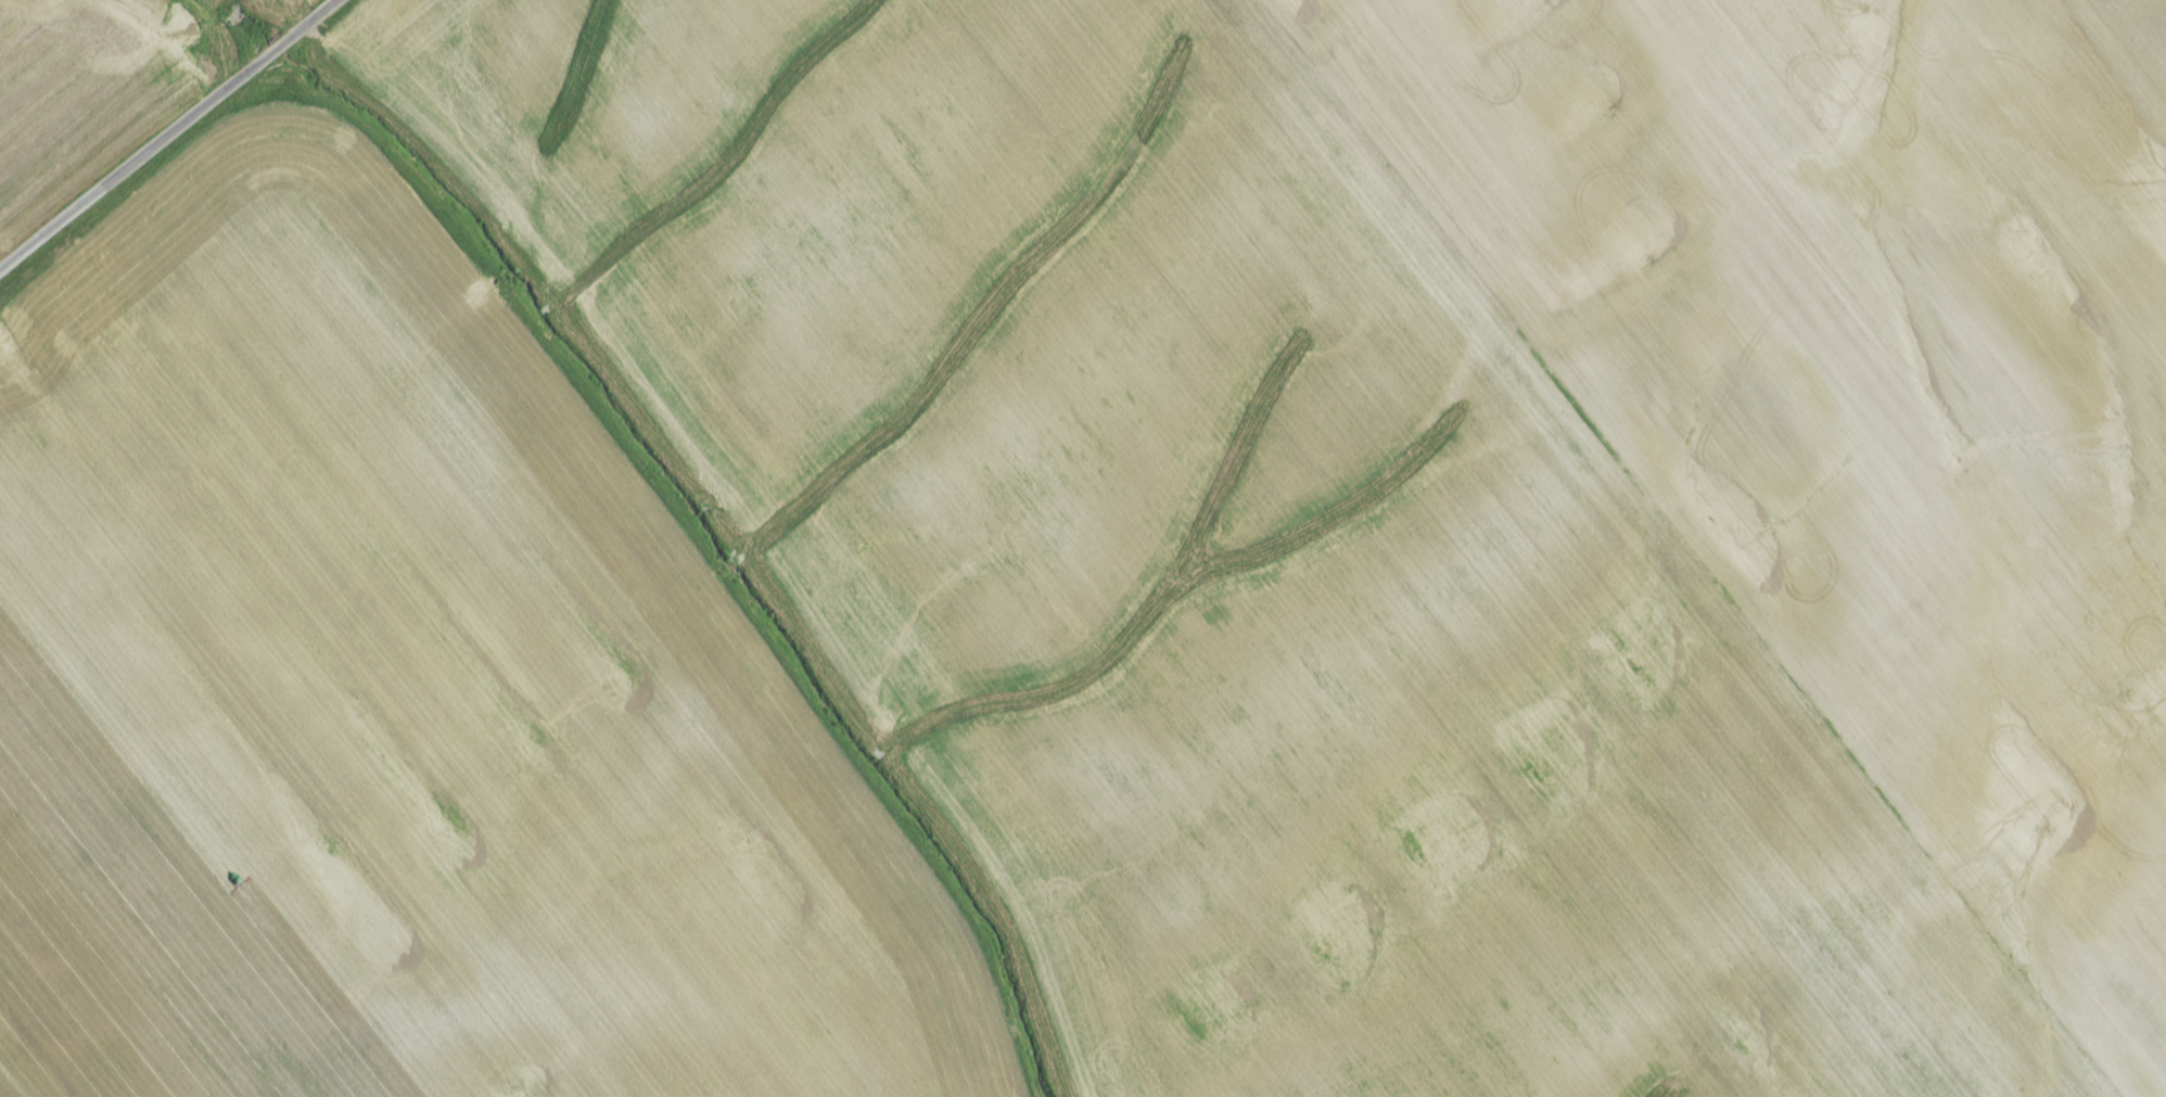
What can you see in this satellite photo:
road: (169, 138)

